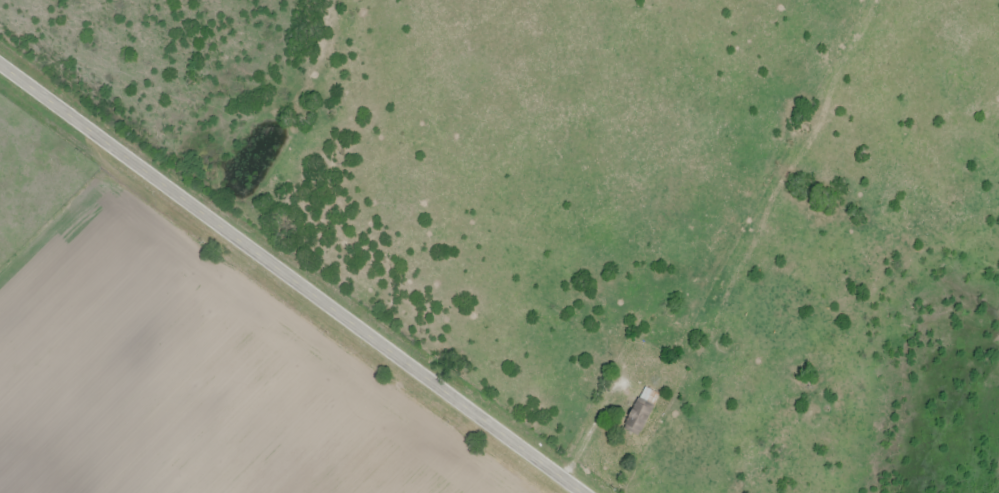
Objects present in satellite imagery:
road: (291, 278)
building: (641, 412)

